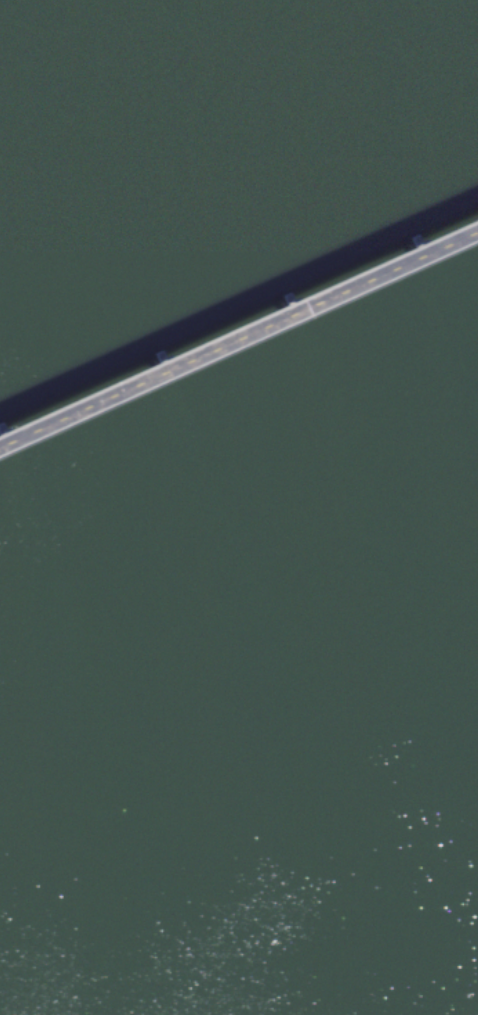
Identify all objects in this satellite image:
road: (239, 347)
river: (239, 709)

